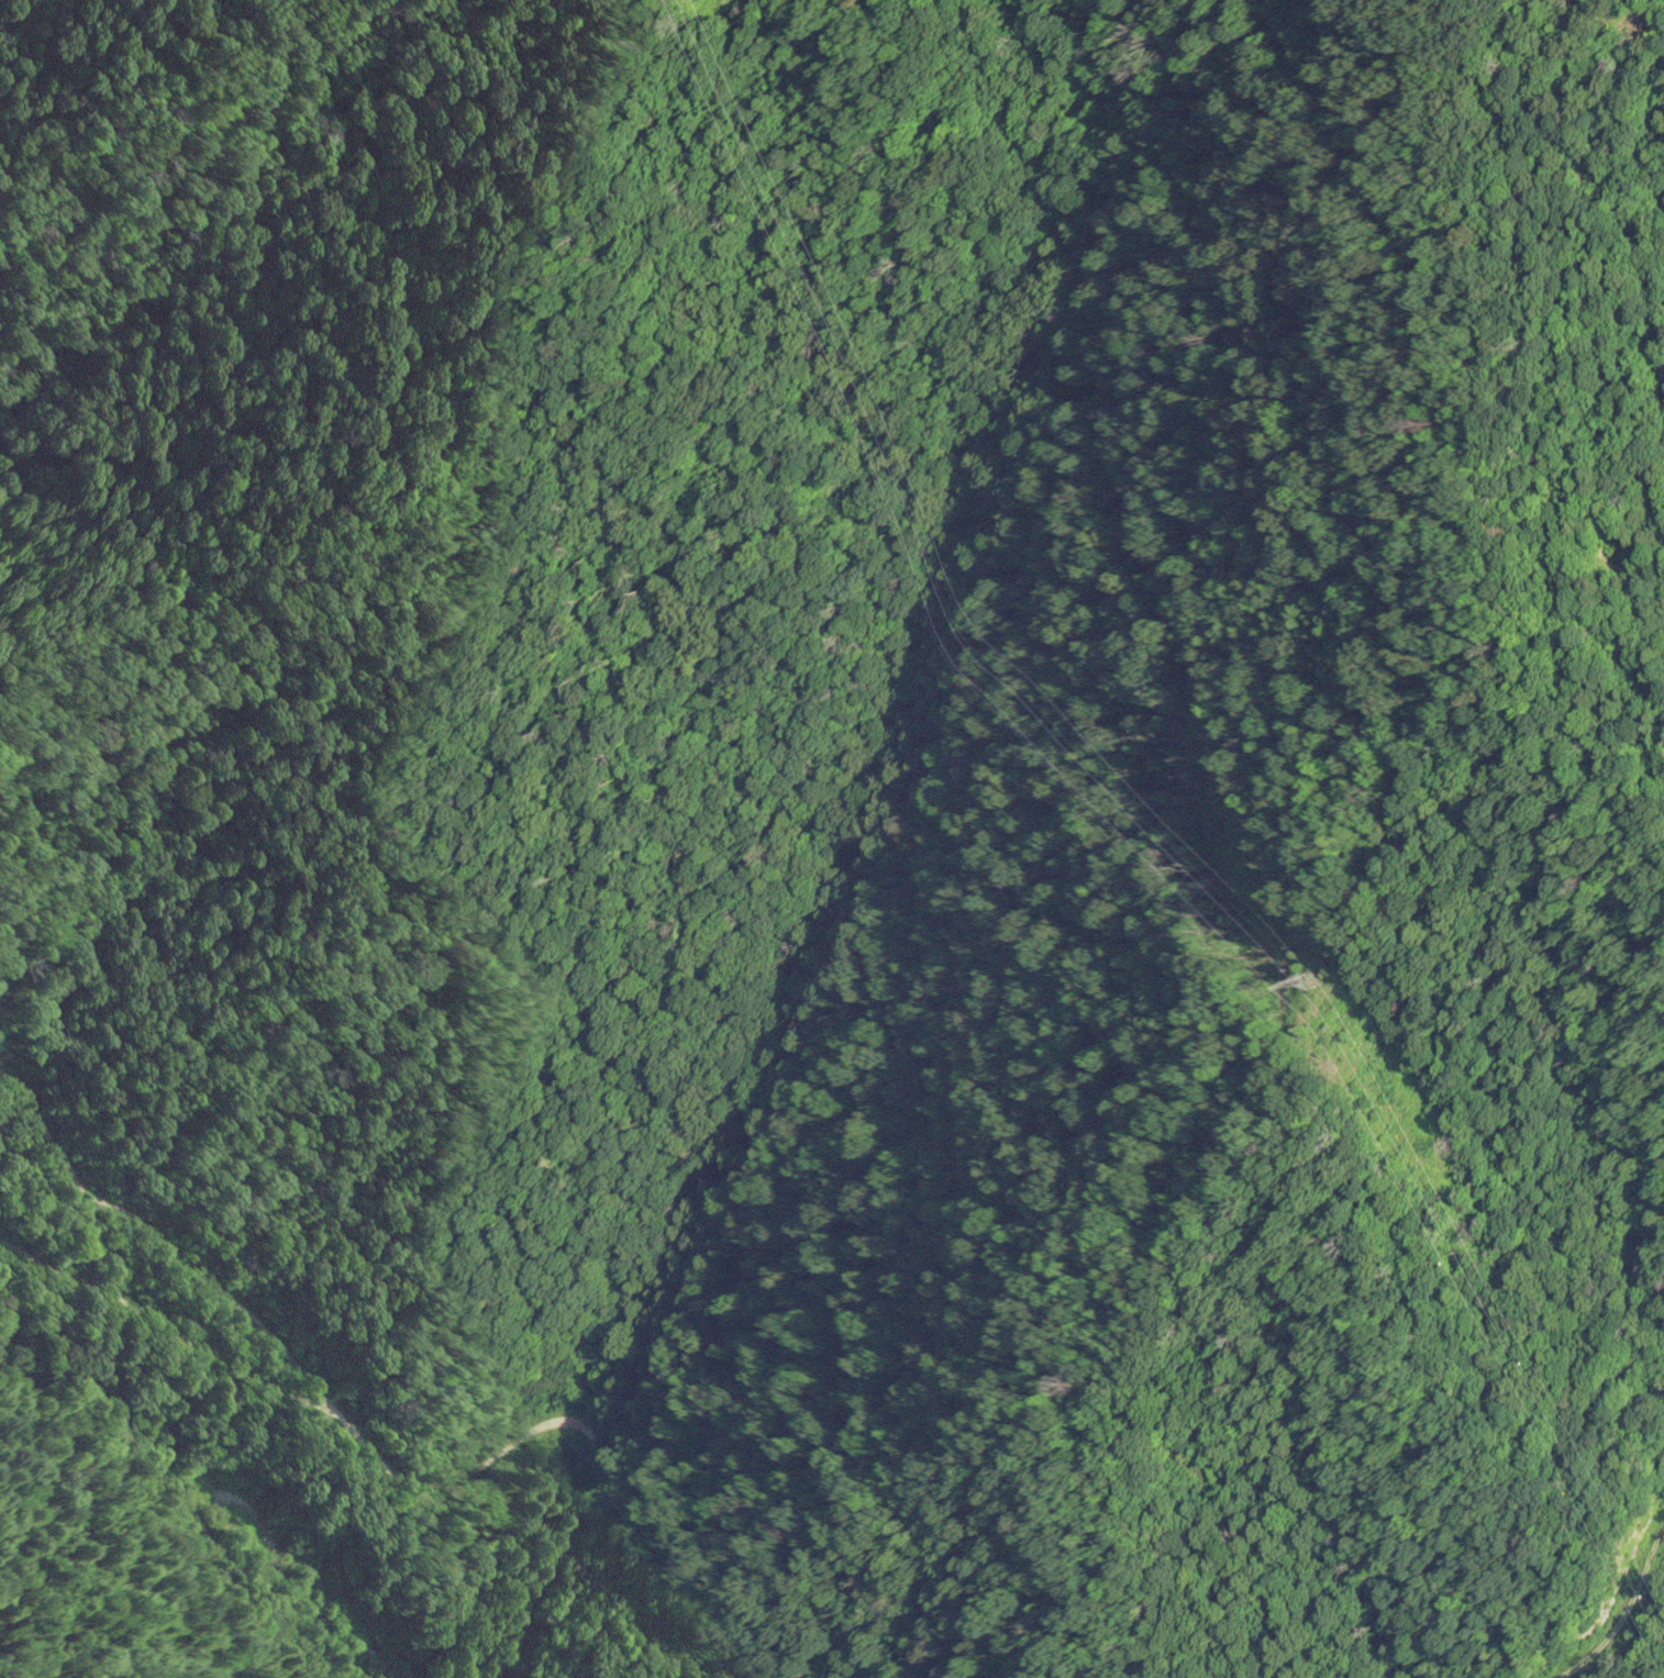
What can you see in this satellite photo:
road: (408, 1442)

